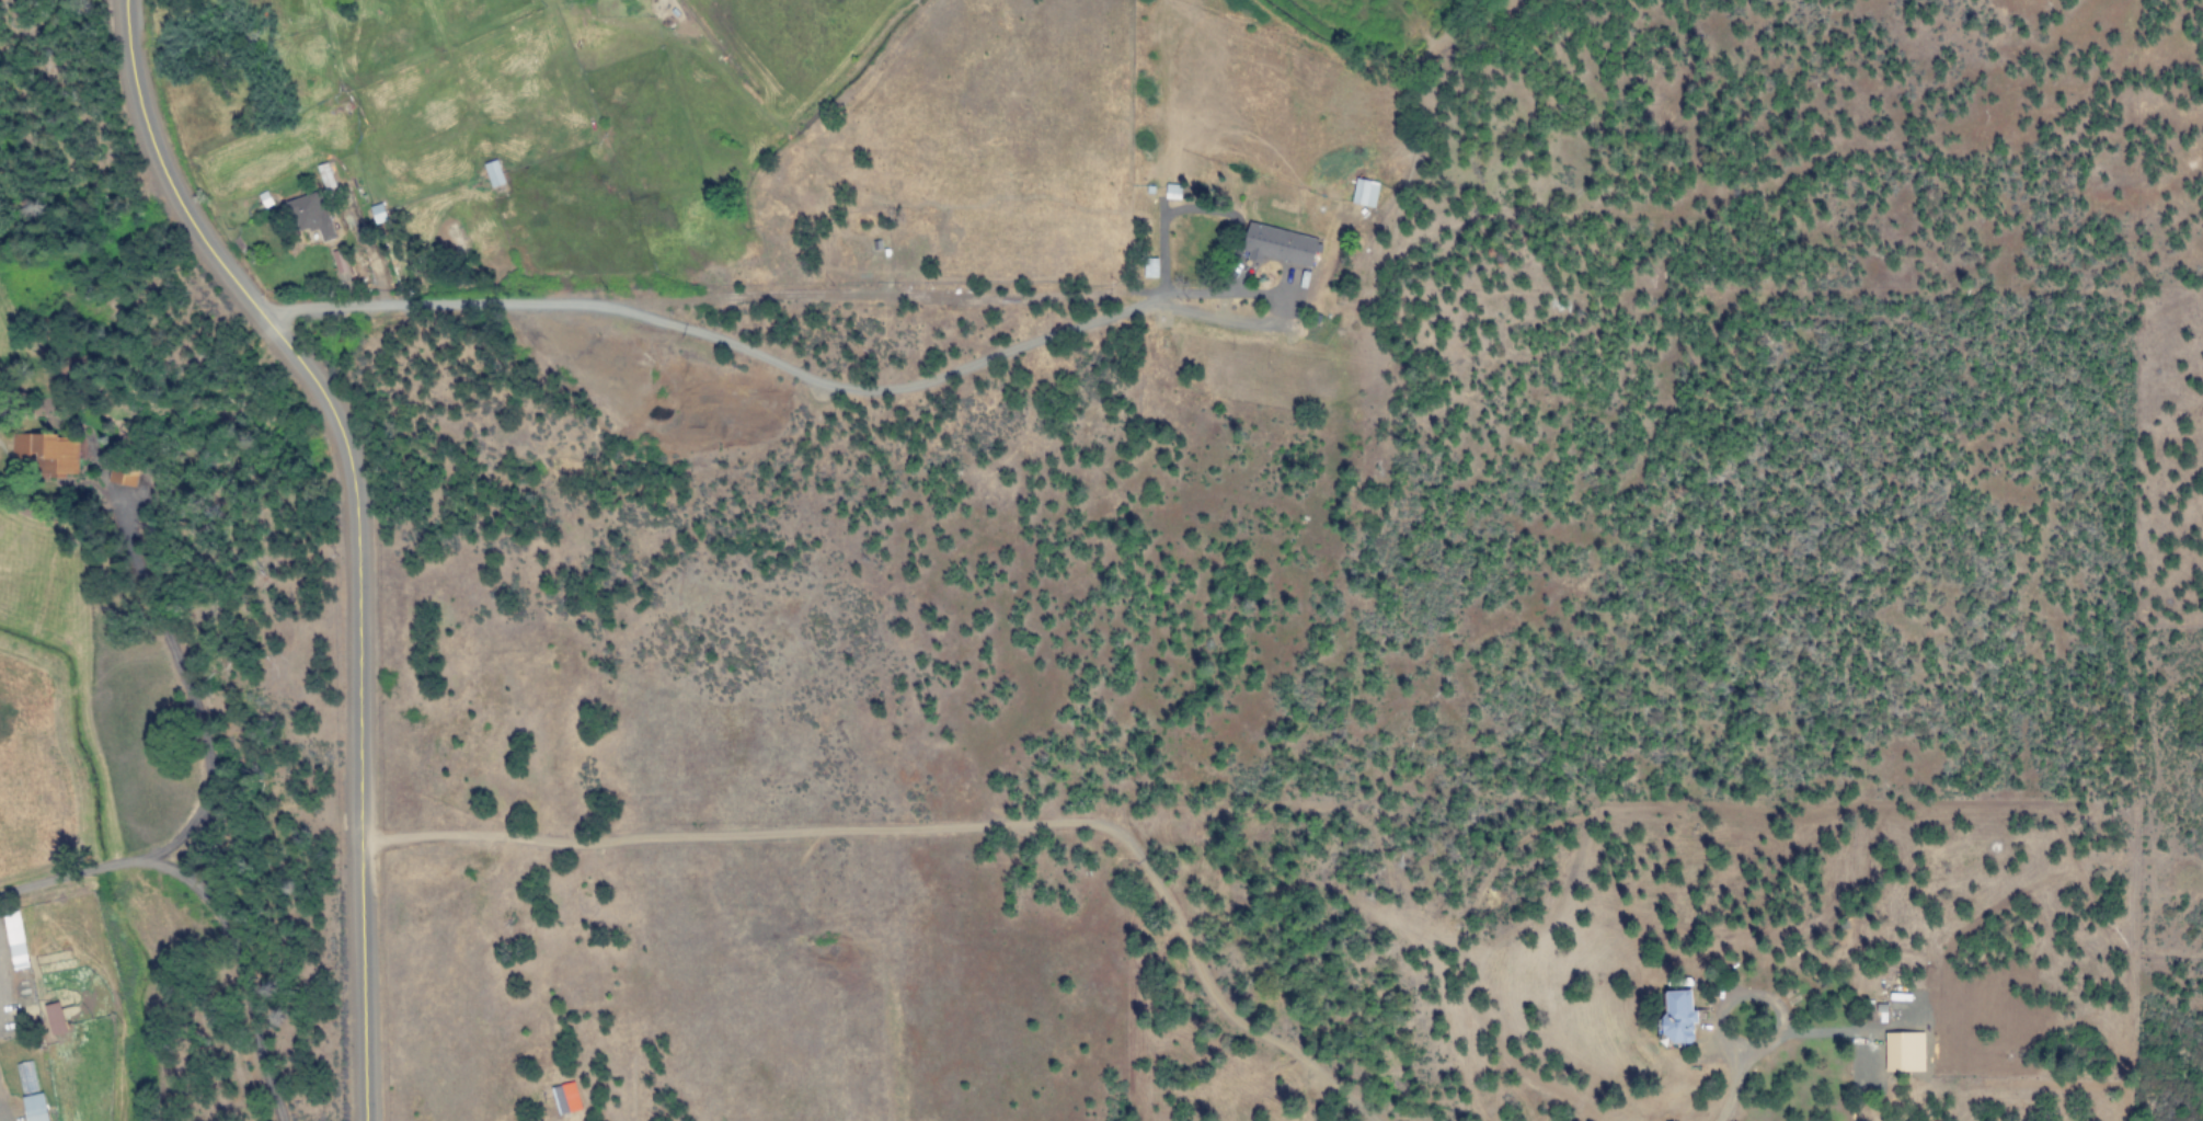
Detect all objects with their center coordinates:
building: (496, 173)
building: (1364, 192)
building: (381, 213)
building: (312, 215)
building: (1278, 244)
building: (1150, 267)
road: (856, 388)
building: (48, 451)
building: (123, 473)
road: (356, 528)
road: (208, 905)
building: (1676, 1016)
building: (58, 1018)
building: (566, 1099)
building: (38, 1108)

